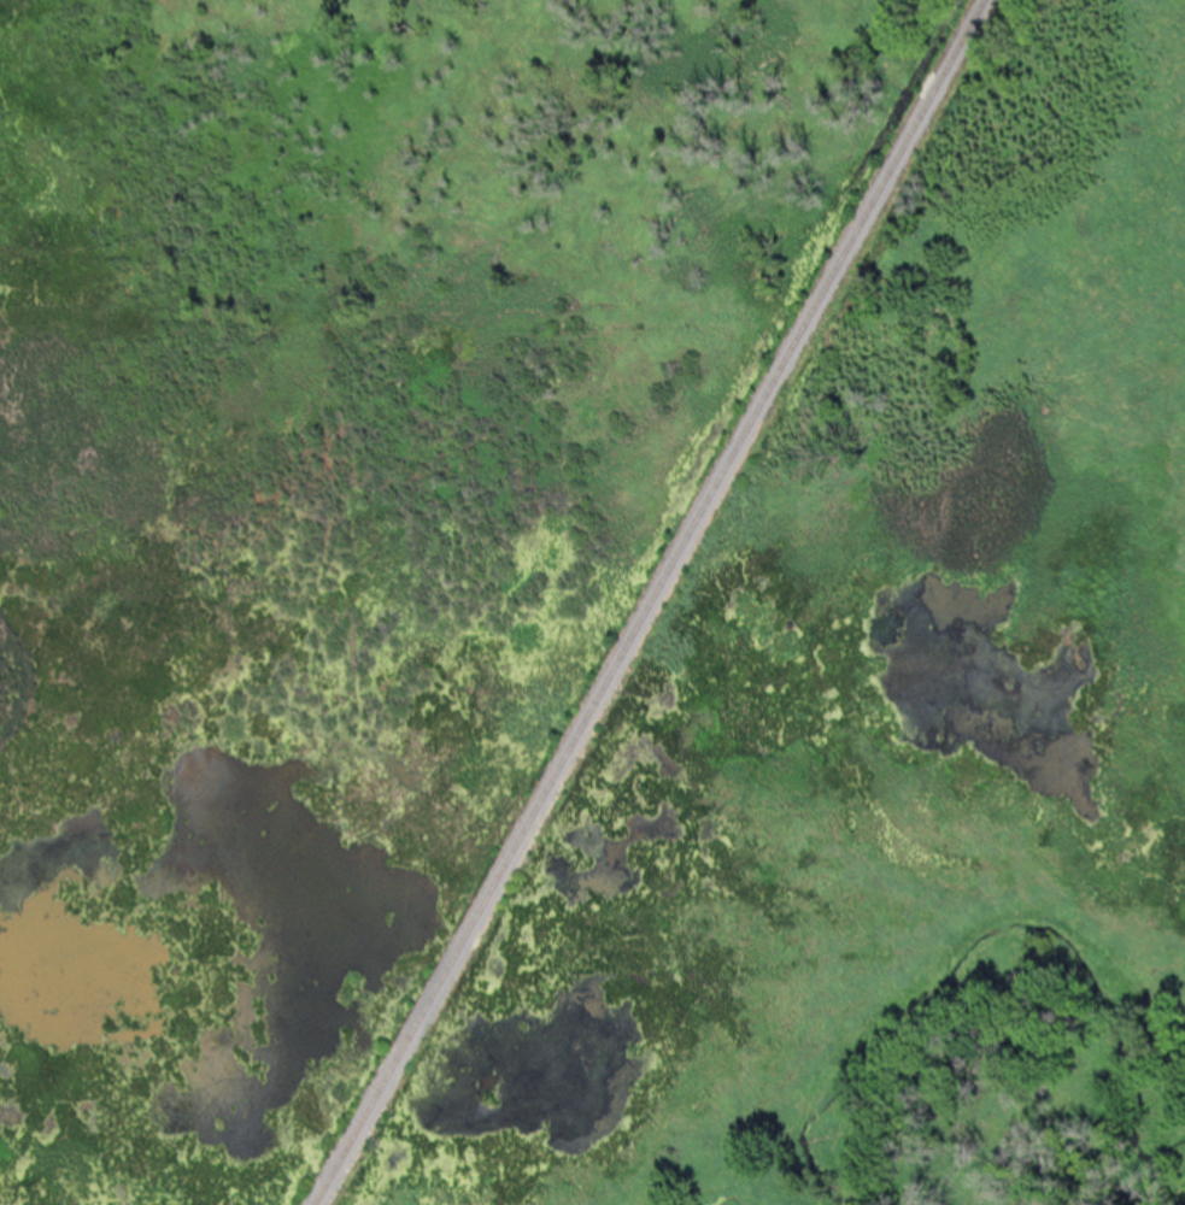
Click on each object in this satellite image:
railway: (646, 602)
river: (990, 975)

